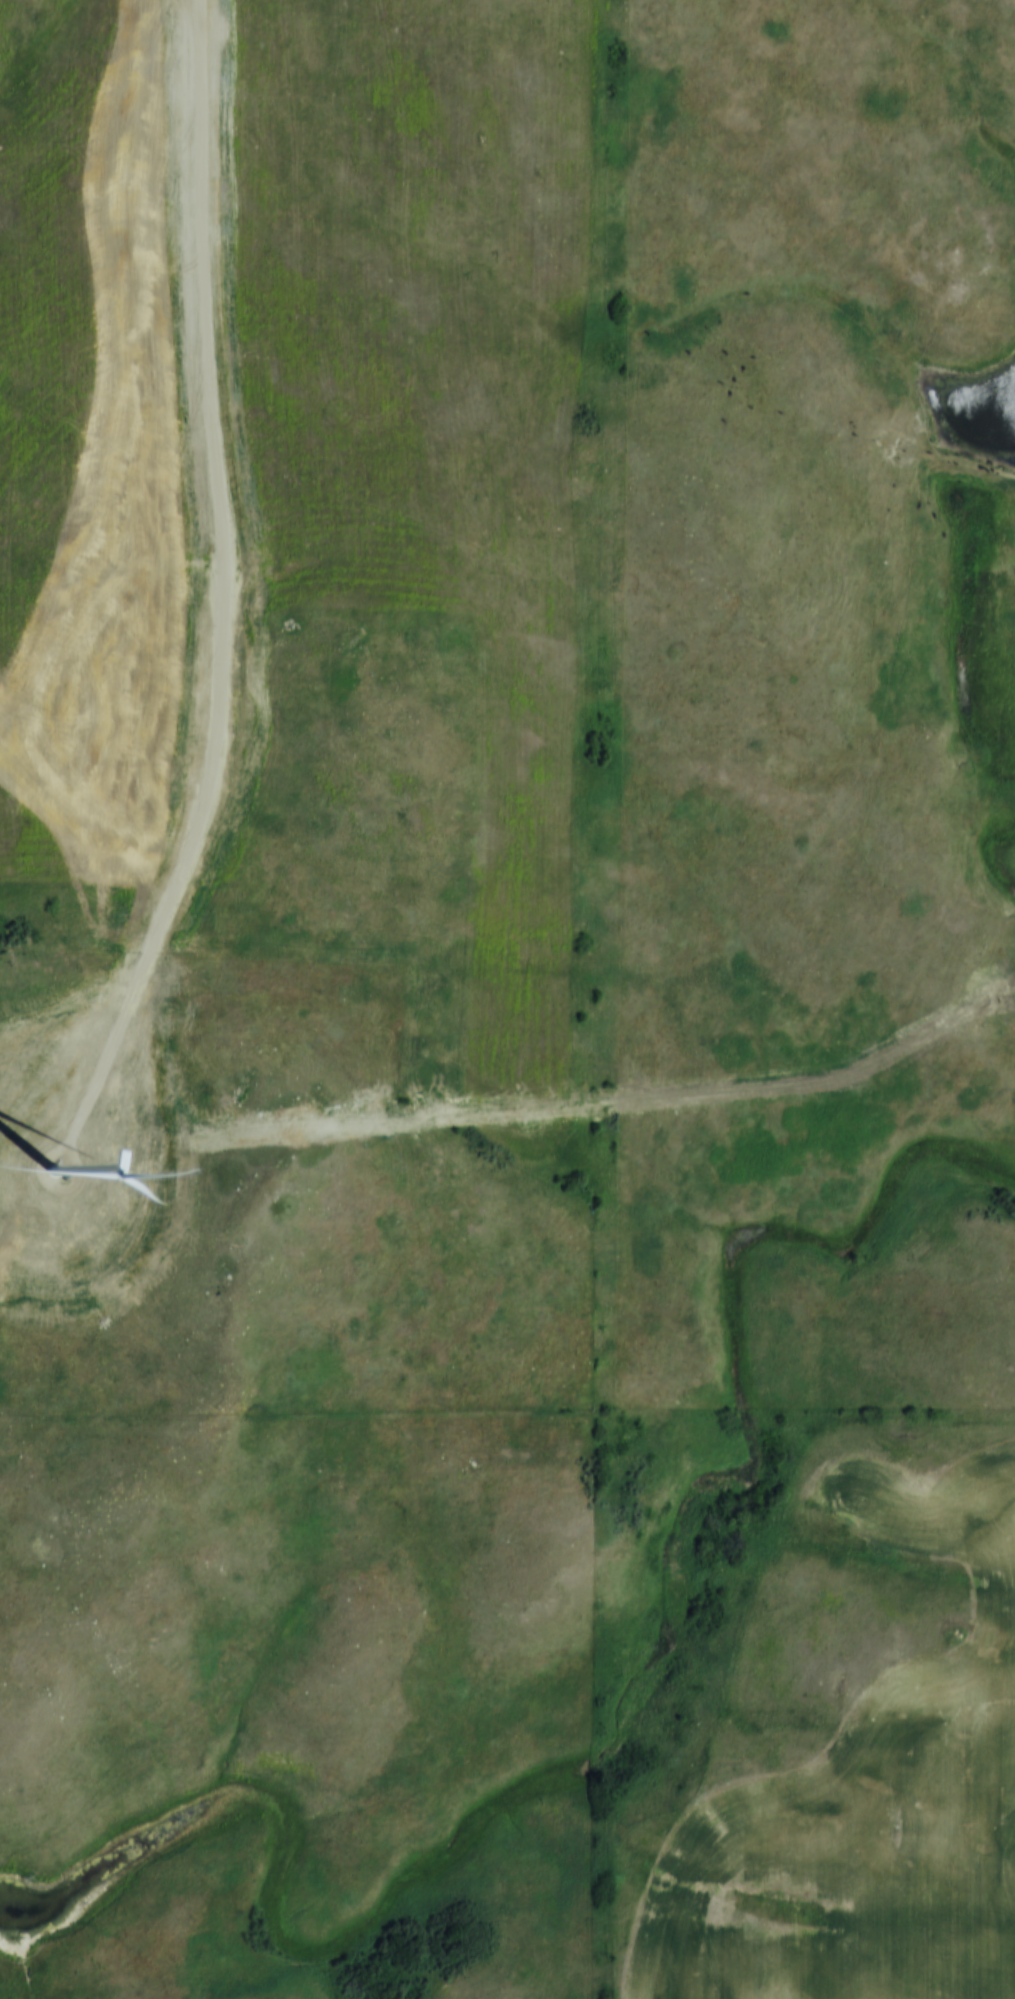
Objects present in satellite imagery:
wind turbine: (39, 1164)

